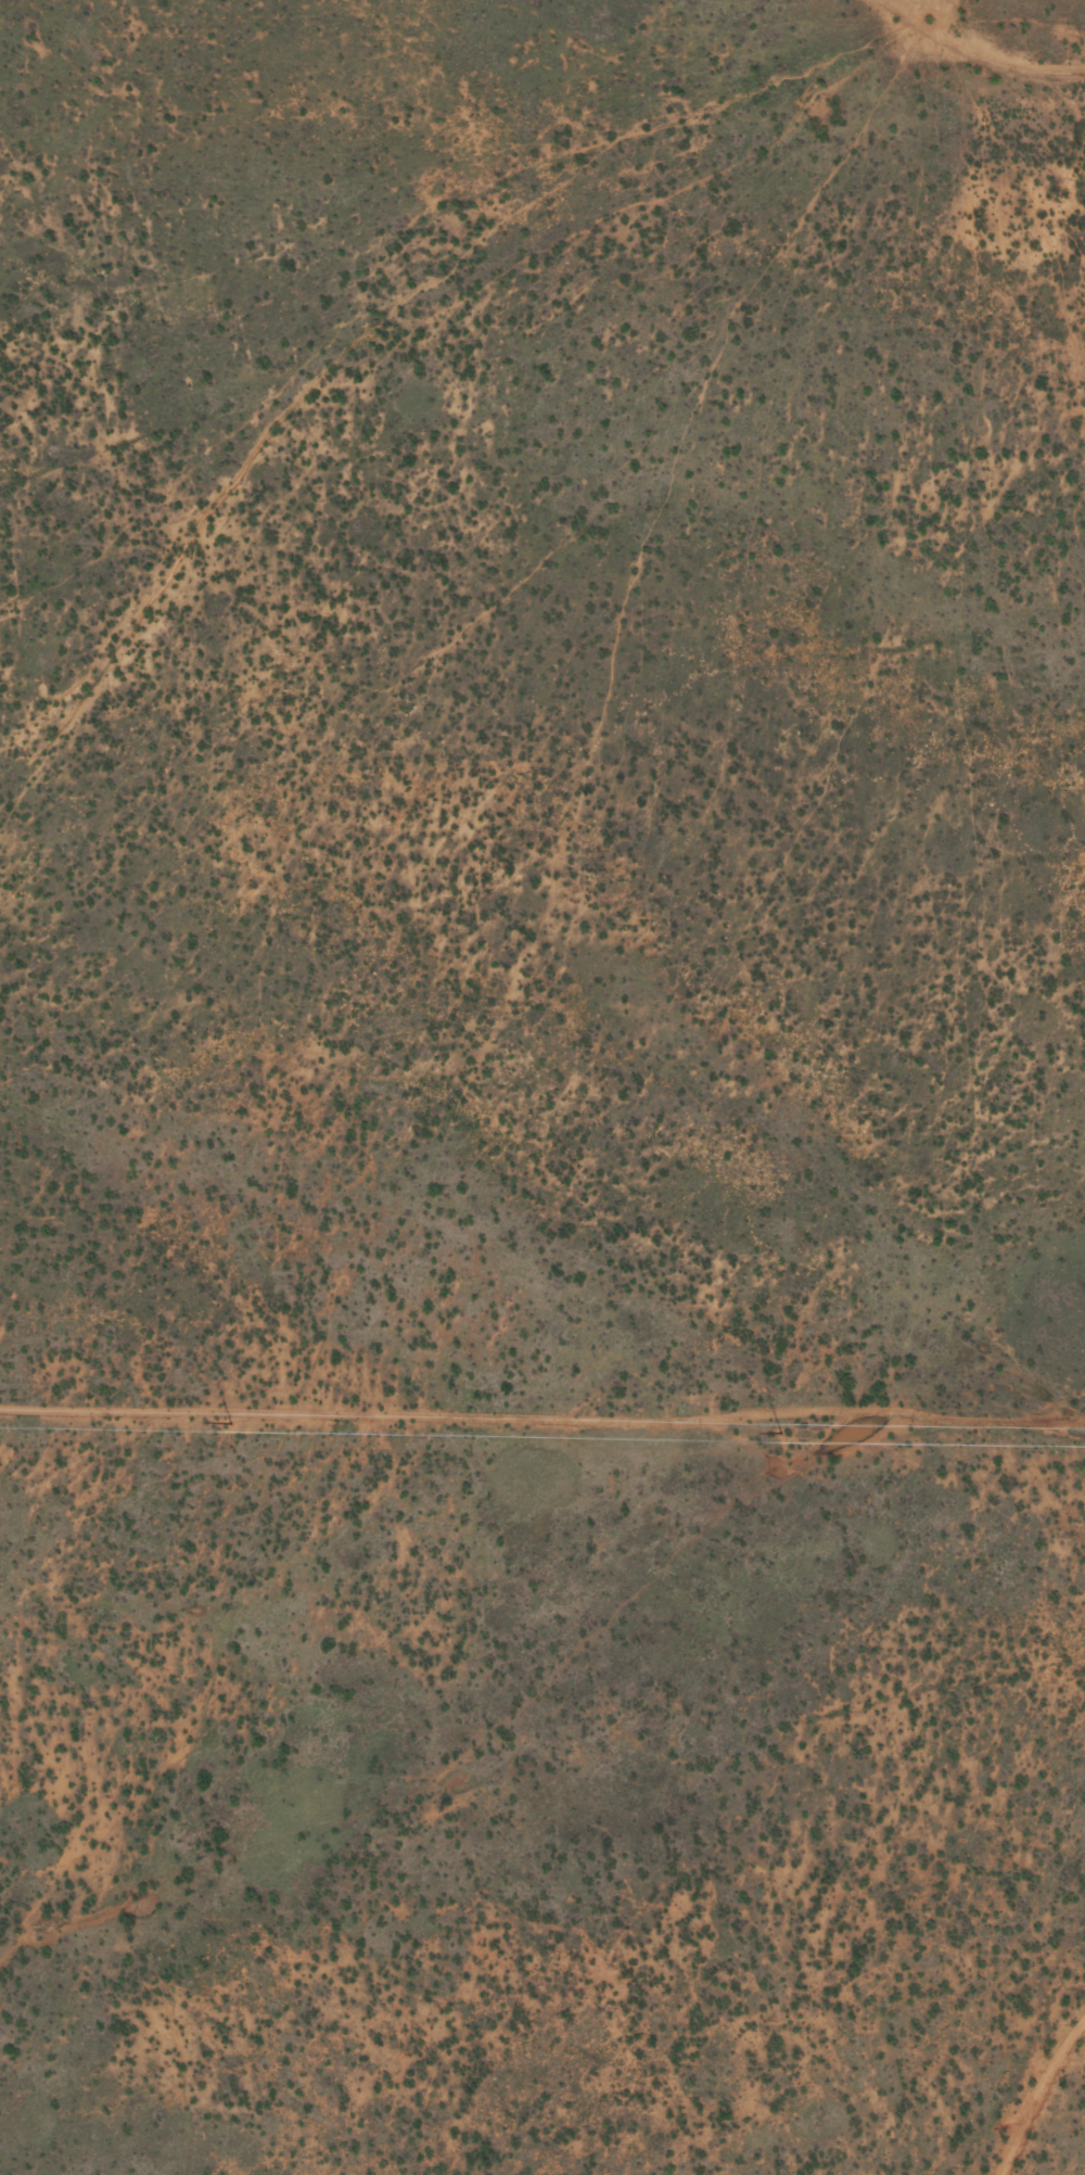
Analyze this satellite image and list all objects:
power tower: (231, 1423)
power tower: (782, 1432)
road: (1061, 2135)

